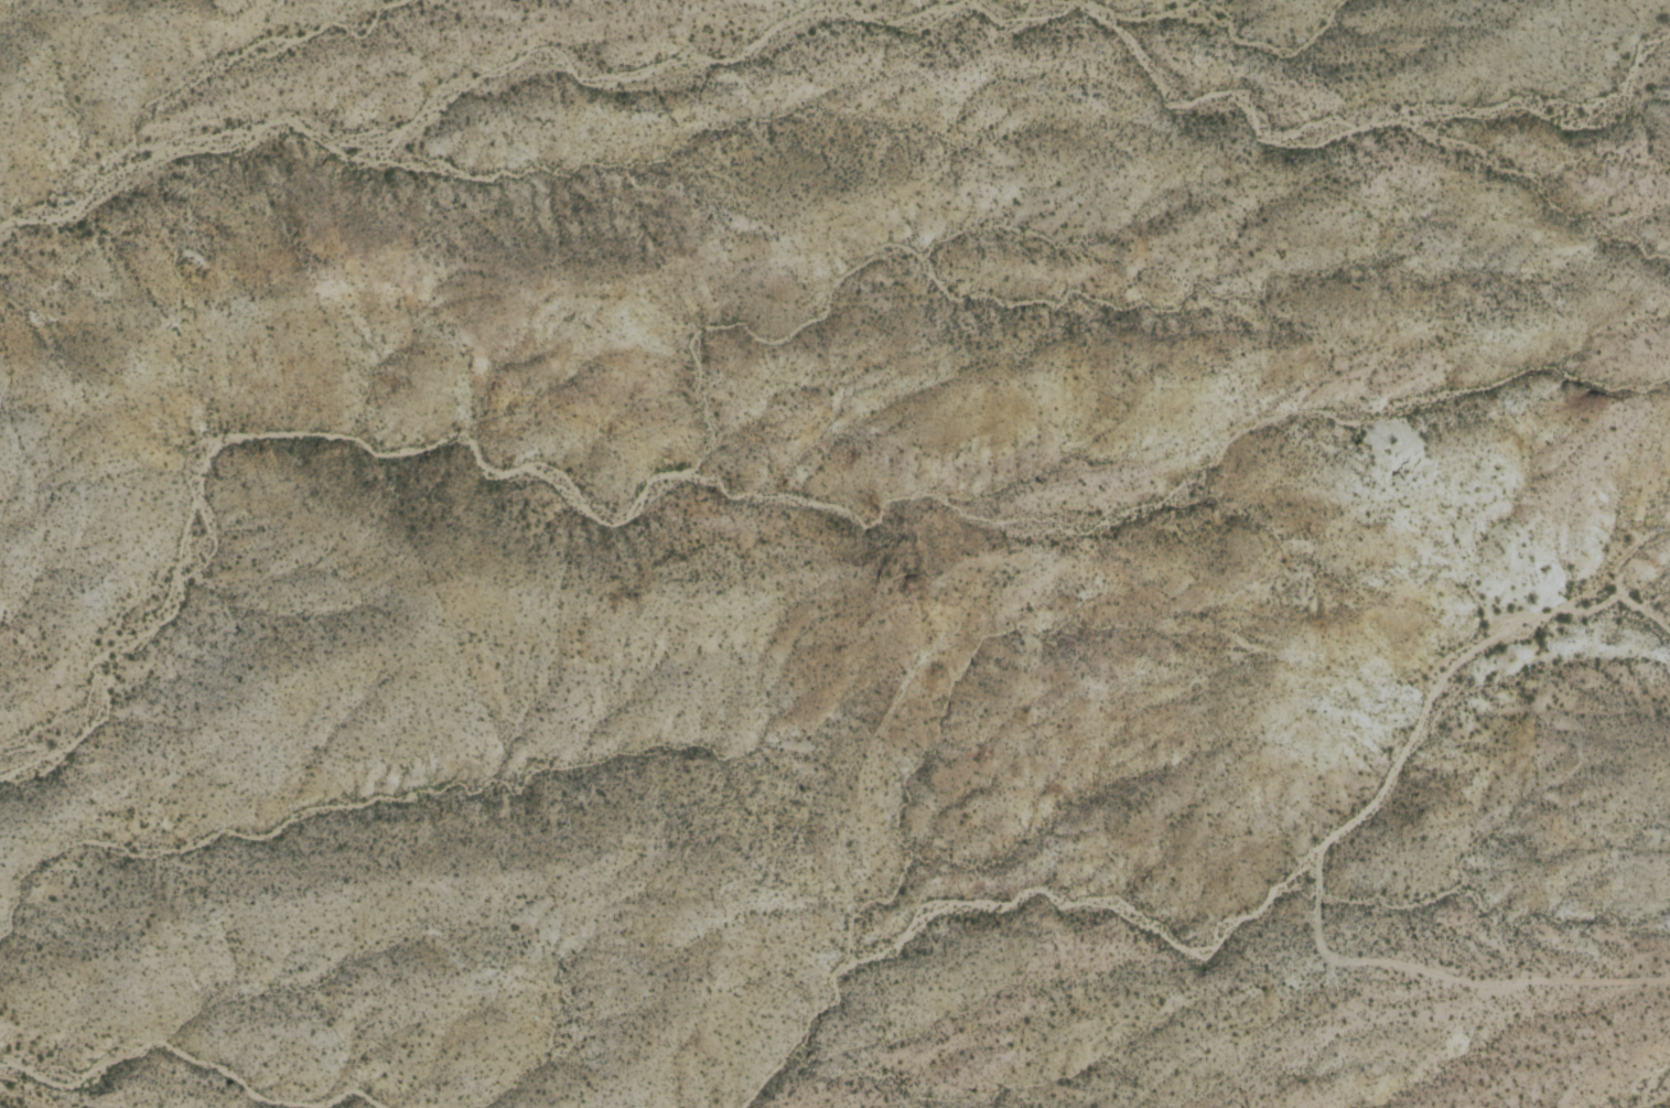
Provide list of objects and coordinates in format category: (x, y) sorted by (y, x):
road: (1324, 915)

